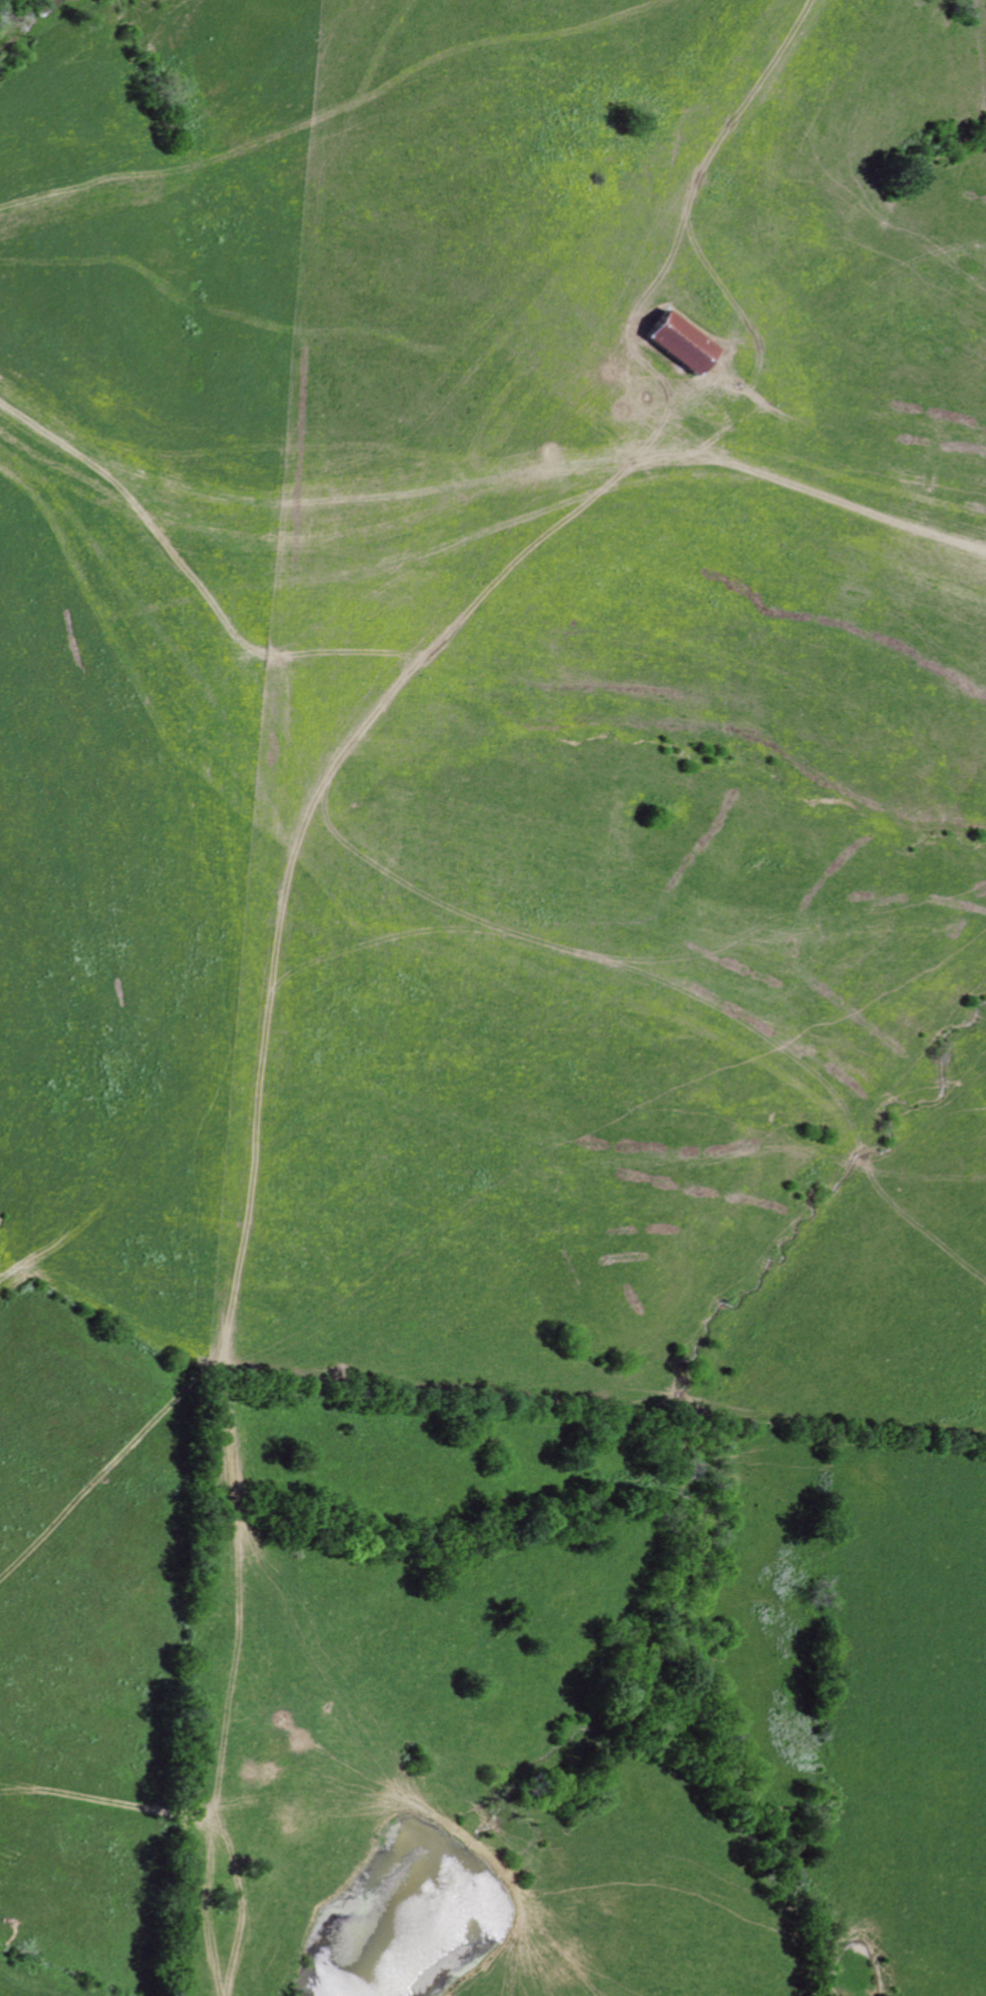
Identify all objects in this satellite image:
building: (681, 343)
road: (466, 457)

